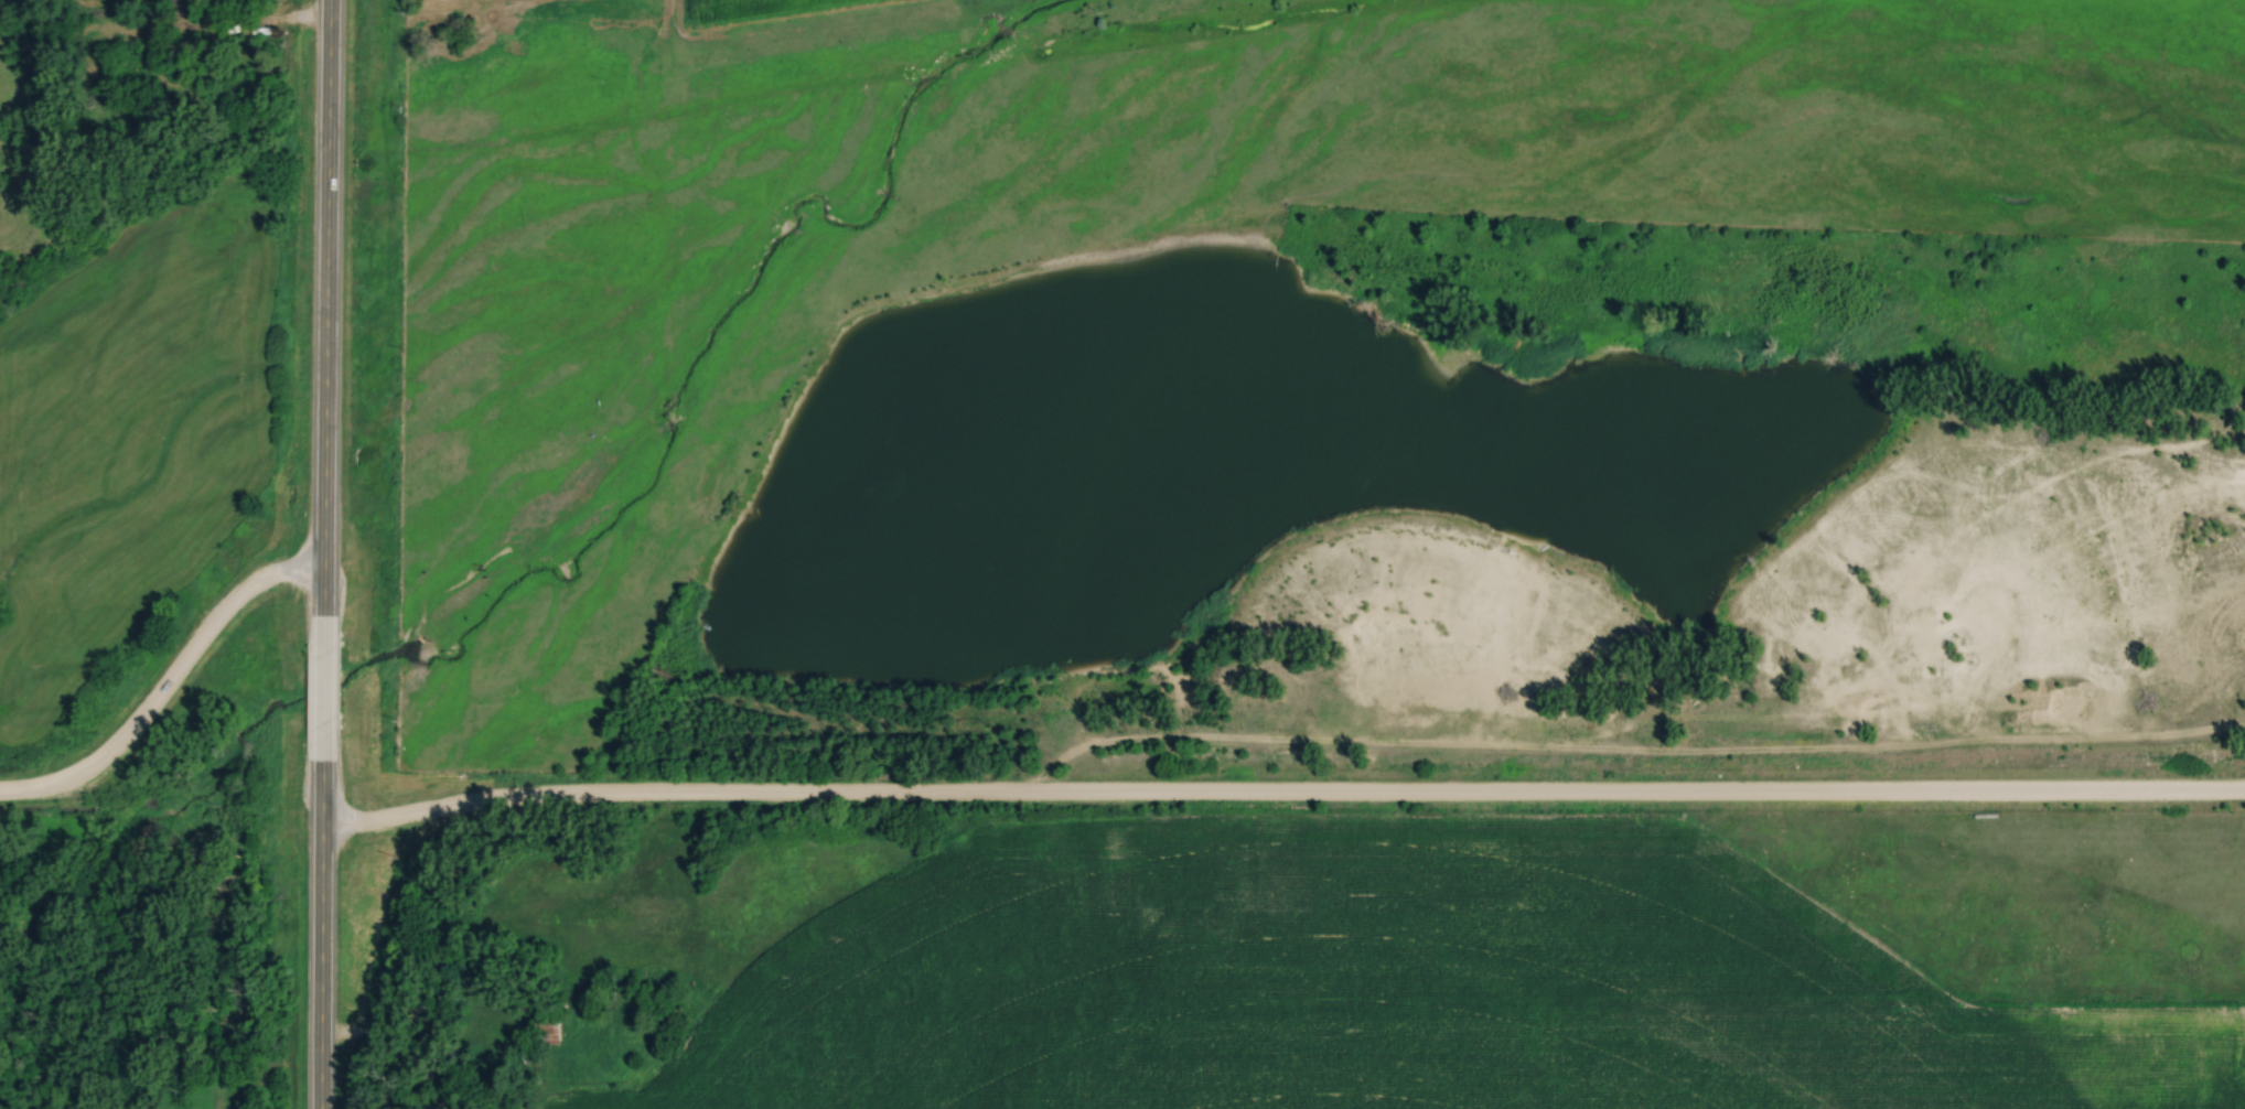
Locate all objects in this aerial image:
building: (178, 7)
river: (763, 255)
road: (324, 308)
road: (164, 686)
road: (321, 688)
river: (251, 723)
road: (1280, 797)
road: (318, 934)

